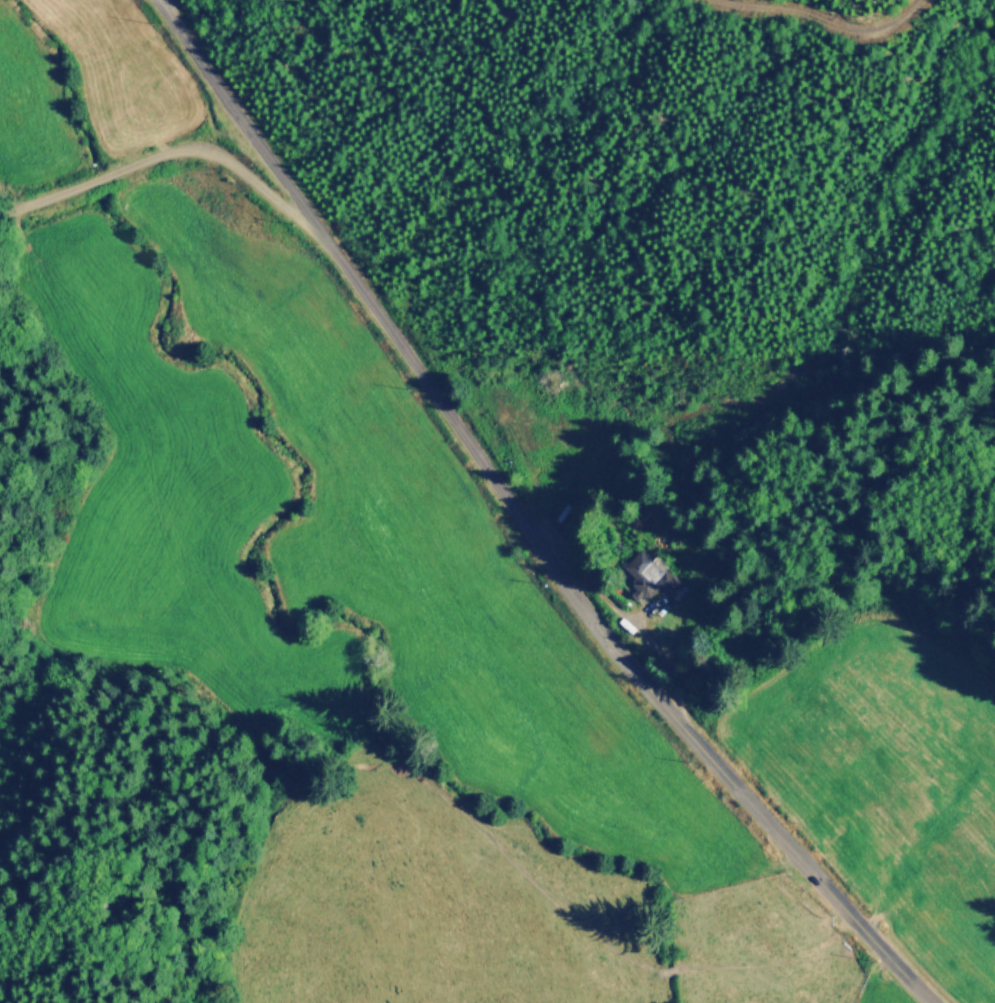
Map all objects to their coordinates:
road: (163, 1)
road: (833, 21)
road: (165, 150)
road: (525, 522)

